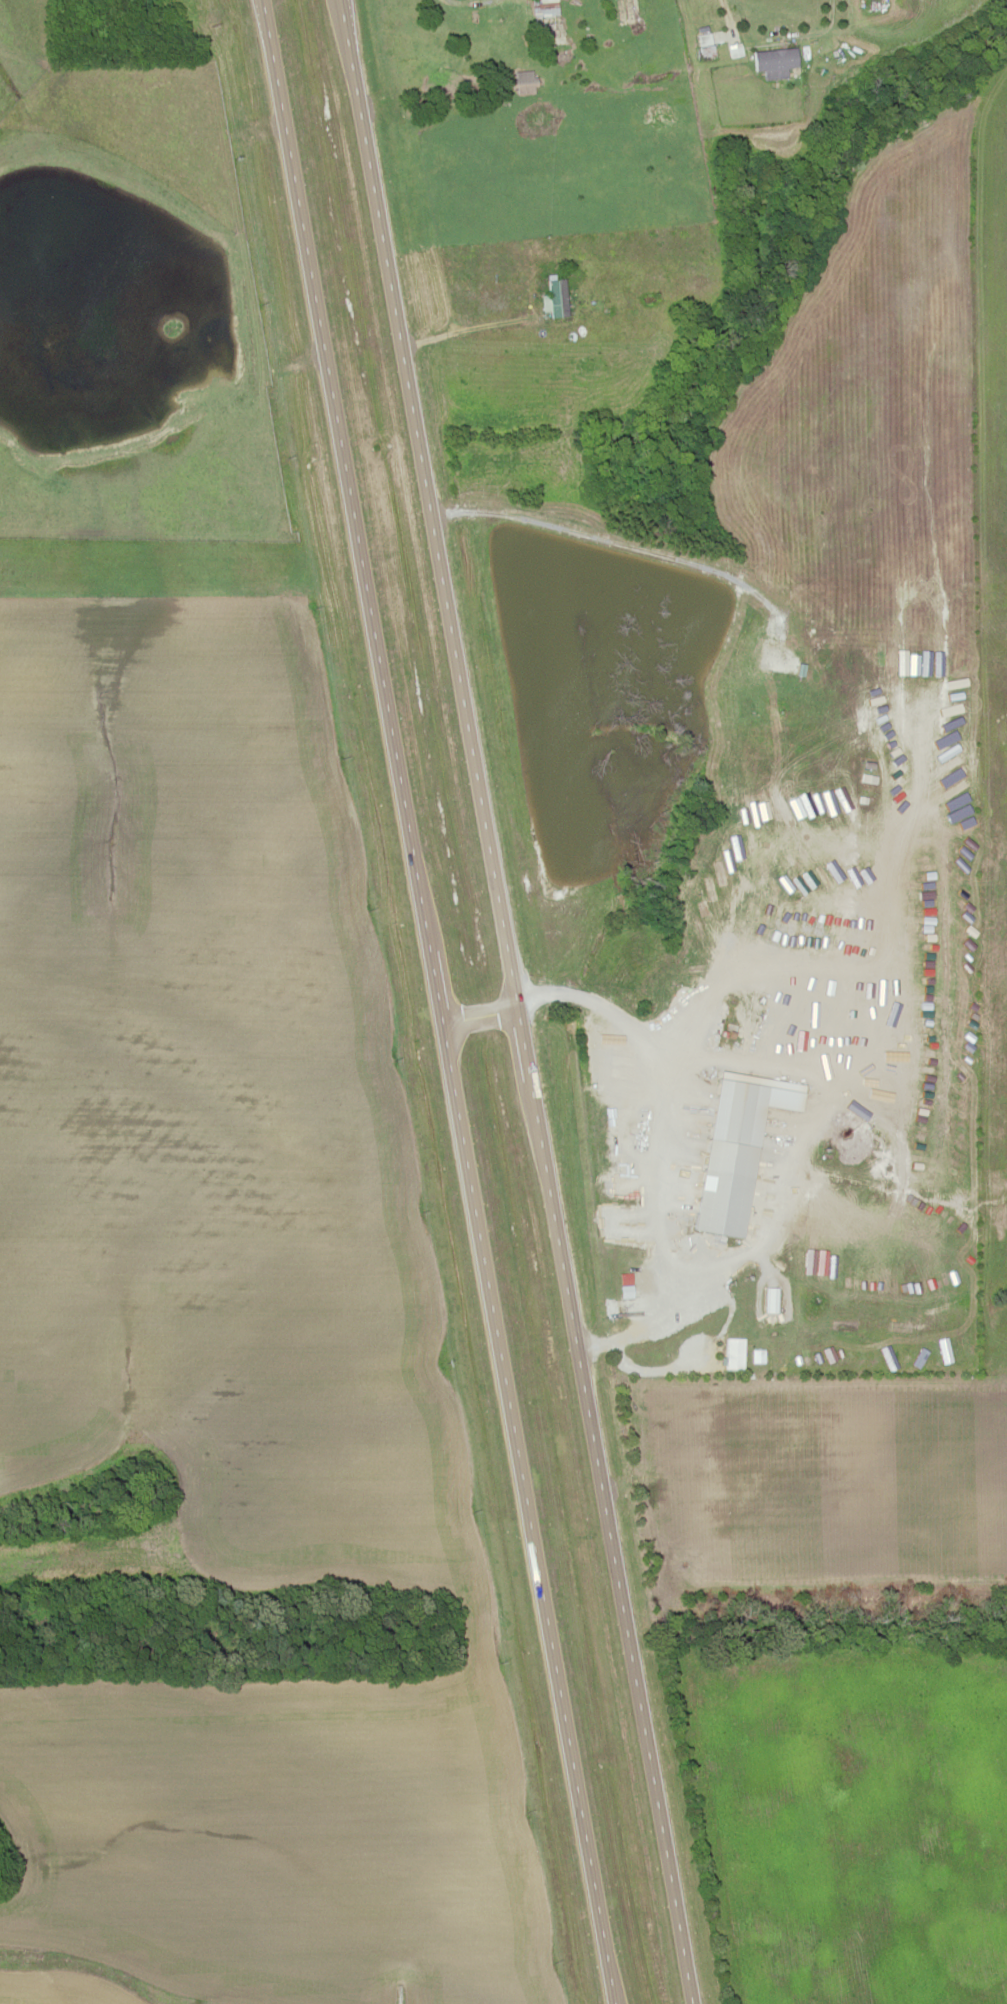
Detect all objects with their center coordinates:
building: (594, 21)
building: (774, 61)
building: (524, 81)
building: (554, 298)
road: (345, 477)
road: (428, 504)
building: (777, 658)
road: (435, 989)
road: (479, 1015)
road: (524, 1043)
building: (725, 1167)
building: (732, 1352)
road: (527, 1513)
road: (611, 1541)

